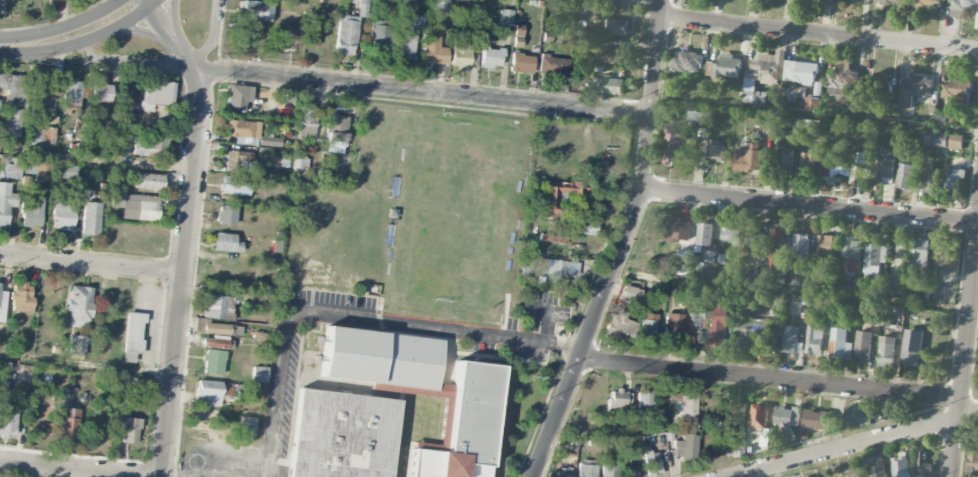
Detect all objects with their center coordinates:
building: (64, 0)
building: (797, 1)
building: (891, 1)
building: (619, 2)
building: (926, 3)
building: (442, 5)
building: (1, 7)
building: (361, 7)
building: (963, 8)
building: (254, 10)
building: (505, 17)
building: (417, 21)
building: (616, 27)
road: (212, 34)
road: (820, 34)
building: (313, 35)
building: (346, 35)
road: (76, 36)
building: (517, 37)
building: (288, 40)
building: (380, 40)
building: (405, 45)
building: (460, 48)
building: (430, 49)
building: (611, 55)
building: (491, 57)
road: (127, 60)
building: (521, 62)
building: (686, 62)
building: (553, 65)
building: (726, 66)
building: (800, 72)
building: (763, 76)
building: (842, 80)
building: (608, 85)
building: (12, 86)
building: (916, 89)
building: (956, 89)
building: (100, 91)
building: (884, 91)
road: (426, 92)
building: (156, 94)
building: (71, 96)
building: (238, 96)
building: (40, 98)
road: (815, 111)
building: (698, 119)
building: (306, 121)
building: (13, 122)
building: (336, 127)
building: (821, 127)
building: (772, 129)
building: (243, 131)
building: (40, 136)
building: (935, 139)
building: (269, 141)
building: (955, 141)
building: (147, 146)
building: (673, 147)
building: (716, 152)
building: (749, 158)
road: (97, 159)
building: (237, 160)
building: (784, 160)
building: (811, 163)
building: (300, 167)
building: (858, 168)
building: (35, 169)
building: (11, 170)
building: (64, 171)
building: (884, 171)
building: (834, 172)
building: (904, 176)
building: (954, 178)
building: (931, 179)
building: (148, 181)
building: (235, 184)
building: (559, 195)
building: (6, 202)
building: (135, 206)
road: (811, 206)
building: (31, 212)
building: (226, 214)
building: (61, 215)
building: (90, 218)
building: (583, 226)
building: (678, 228)
road: (188, 229)
building: (705, 234)
building: (731, 235)
building: (552, 238)
building: (752, 241)
building: (226, 242)
road: (623, 244)
building: (276, 245)
building: (800, 245)
building: (777, 249)
building: (824, 250)
building: (851, 254)
building: (947, 256)
building: (920, 258)
building: (874, 261)
road: (91, 262)
building: (526, 264)
building: (707, 265)
building: (684, 267)
building: (553, 270)
building: (631, 293)
road: (790, 294)
building: (21, 295)
building: (2, 305)
building: (78, 306)
building: (216, 306)
road: (354, 316)
building: (672, 325)
building: (696, 325)
building: (719, 325)
building: (619, 326)
building: (647, 326)
building: (215, 327)
building: (748, 333)
building: (132, 335)
building: (772, 335)
building: (814, 336)
building: (791, 340)
building: (214, 343)
building: (839, 344)
building: (77, 345)
building: (862, 345)
building: (912, 347)
building: (886, 353)
road: (964, 354)
building: (381, 359)
building: (213, 361)
road: (86, 366)
building: (258, 374)
road: (769, 379)
building: (210, 392)
building: (645, 399)
building: (617, 401)
building: (683, 405)
building: (858, 415)
building: (732, 417)
building: (759, 418)
building: (815, 419)
building: (7, 420)
building: (787, 420)
building: (68, 424)
building: (464, 426)
building: (128, 428)
building: (341, 435)
road: (856, 444)
building: (685, 446)
building: (972, 458)
building: (651, 463)
building: (923, 463)
building: (900, 466)
road: (81, 467)
building: (607, 468)
building: (878, 468)
building: (628, 469)
building: (585, 470)
building: (556, 474)
building: (852, 474)
building: (919, 475)
road: (172, 476)
building: (809, 476)

